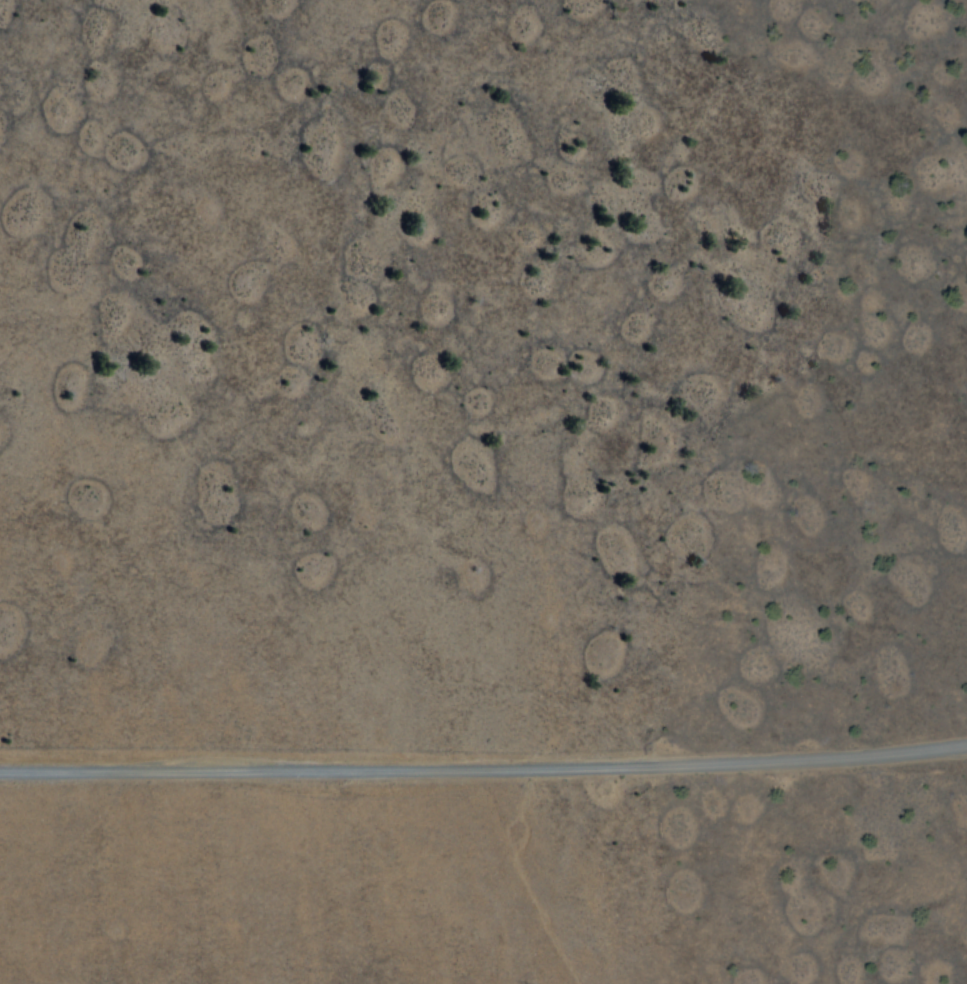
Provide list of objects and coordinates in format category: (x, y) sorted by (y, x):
road: (483, 770)

